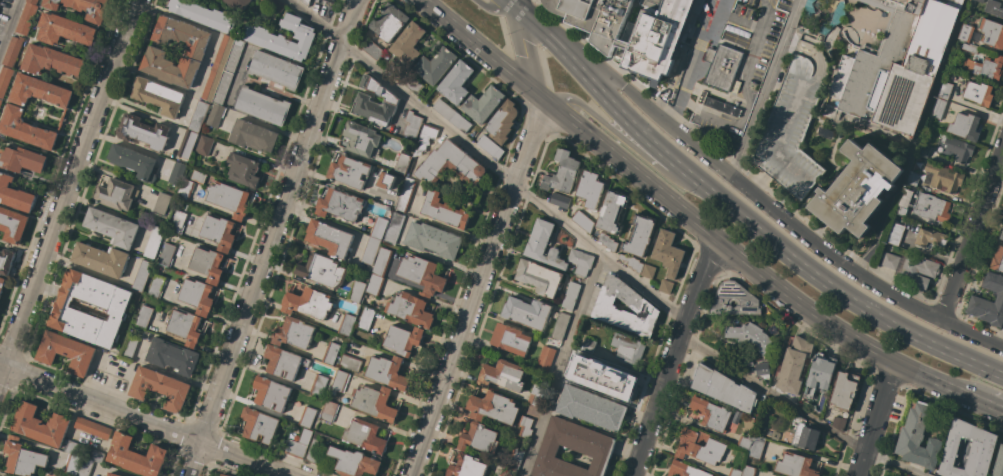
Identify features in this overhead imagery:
building: (317, 1)
building: (330, 1)
building: (980, 1)
building: (32, 2)
building: (306, 2)
building: (238, 4)
road: (516, 4)
building: (275, 5)
building: (82, 8)
traffic signals: (516, 8)
building: (994, 8)
road: (494, 9)
building: (808, 9)
building: (202, 14)
building: (26, 19)
building: (833, 19)
building: (389, 22)
road: (10, 26)
building: (64, 29)
building: (965, 33)
building: (992, 33)
building: (182, 36)
building: (283, 37)
building: (408, 43)
building: (635, 44)
building: (965, 47)
road: (524, 49)
building: (372, 50)
building: (13, 51)
building: (223, 51)
building: (234, 56)
building: (725, 58)
building: (51, 60)
road: (694, 63)
building: (898, 64)
building: (435, 65)
building: (169, 67)
building: (987, 67)
building: (276, 69)
building: (396, 70)
building: (4, 80)
building: (455, 82)
building: (412, 83)
building: (211, 84)
road: (763, 87)
building: (222, 88)
traffic signals: (535, 90)
building: (945, 90)
building: (39, 91)
building: (978, 93)
building: (158, 96)
building: (0, 102)
building: (375, 103)
building: (482, 104)
building: (263, 106)
building: (721, 106)
building: (938, 108)
building: (444, 109)
building: (215, 115)
building: (198, 116)
building: (460, 122)
building: (502, 122)
building: (412, 124)
building: (964, 126)
building: (25, 129)
building: (143, 132)
building: (252, 136)
building: (361, 138)
building: (426, 138)
building: (187, 144)
building: (779, 145)
building: (204, 146)
building: (490, 146)
road: (631, 146)
building: (957, 148)
building: (924, 151)
building: (21, 160)
building: (133, 162)
road: (490, 163)
building: (402, 164)
building: (450, 165)
building: (243, 170)
building: (349, 172)
building: (562, 172)
building: (176, 173)
building: (197, 177)
building: (942, 177)
building: (912, 178)
building: (384, 180)
road: (328, 182)
road: (68, 188)
building: (590, 188)
building: (185, 189)
building: (116, 194)
building: (14, 195)
building: (389, 195)
building: (406, 195)
building: (228, 199)
building: (560, 200)
building: (903, 202)
building: (161, 203)
building: (340, 205)
building: (931, 207)
building: (443, 210)
road: (737, 210)
building: (611, 211)
road: (684, 214)
road: (781, 217)
building: (582, 221)
building: (177, 222)
building: (12, 225)
building: (112, 227)
building: (378, 227)
building: (395, 227)
building: (219, 232)
building: (895, 234)
building: (639, 235)
road: (971, 235)
building: (1001, 236)
road: (274, 237)
building: (329, 238)
building: (930, 238)
building: (433, 240)
building: (607, 242)
building: (153, 243)
building: (543, 245)
building: (370, 250)
building: (166, 253)
building: (668, 253)
building: (100, 259)
building: (997, 260)
building: (381, 261)
building: (580, 261)
building: (6, 262)
building: (632, 263)
building: (207, 264)
building: (911, 268)
building: (322, 271)
building: (648, 271)
building: (421, 274)
building: (141, 276)
building: (538, 277)
road: (478, 282)
building: (2, 283)
building: (375, 285)
building: (155, 286)
building: (665, 286)
building: (170, 289)
building: (356, 291)
building: (197, 296)
building: (570, 296)
building: (734, 300)
building: (988, 301)
building: (307, 303)
building: (640, 305)
building: (113, 309)
building: (411, 309)
building: (527, 312)
building: (144, 317)
building: (366, 319)
building: (346, 324)
building: (560, 326)
building: (185, 327)
building: (293, 333)
building: (750, 337)
building: (403, 339)
building: (510, 339)
building: (587, 345)
building: (130, 346)
building: (628, 349)
building: (66, 352)
building: (330, 353)
building: (172, 356)
building: (545, 359)
road: (678, 359)
building: (747, 360)
building: (283, 362)
building: (350, 363)
road: (560, 364)
building: (794, 365)
building: (763, 371)
building: (387, 372)
building: (820, 374)
building: (502, 375)
building: (578, 379)
building: (339, 382)
building: (611, 382)
building: (318, 385)
building: (159, 388)
building: (723, 388)
building: (845, 389)
building: (270, 393)
building: (535, 394)
building: (374, 403)
road: (985, 405)
building: (590, 407)
building: (493, 408)
building: (329, 411)
road: (801, 412)
building: (710, 414)
building: (307, 417)
road: (875, 418)
road: (142, 422)
building: (838, 424)
building: (39, 425)
building: (85, 425)
building: (259, 425)
building: (749, 425)
building: (525, 427)
building: (102, 431)
building: (761, 431)
building: (365, 436)
building: (806, 437)
building: (918, 437)
building: (479, 438)
building: (745, 442)
building: (299, 445)
building: (699, 446)
building: (757, 447)
building: (76, 449)
building: (572, 450)
building: (968, 450)
building: (94, 455)
building: (135, 456)
building: (344, 457)
building: (23, 459)
building: (515, 459)
building: (998, 463)
building: (73, 465)
building: (795, 465)
building: (467, 467)
building: (85, 468)
building: (684, 470)
building: (749, 471)
building: (734, 472)
building: (112, 474)
building: (505, 474)
building: (218, 475)
building: (223, 475)

